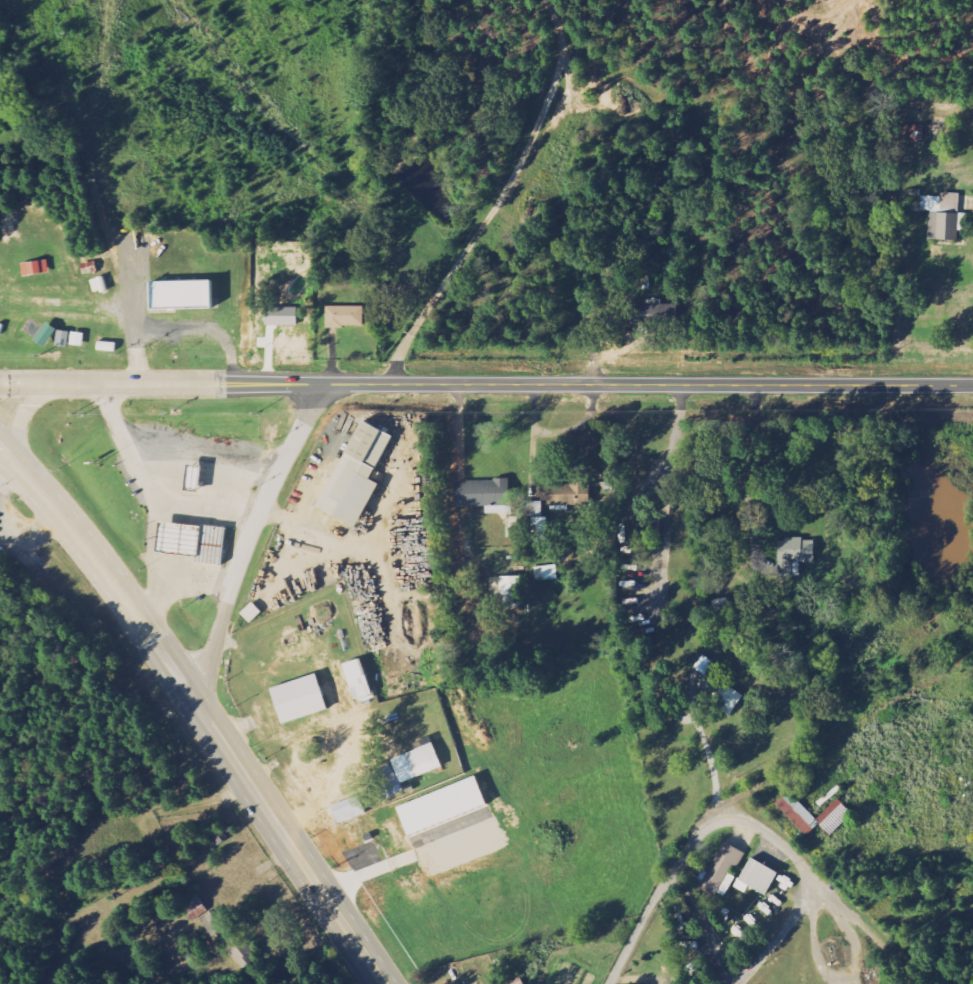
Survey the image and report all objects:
building: (914, 133)
road: (500, 201)
building: (942, 215)
building: (17, 218)
building: (34, 268)
building: (180, 294)
building: (653, 313)
building: (344, 316)
road: (177, 329)
building: (36, 331)
building: (62, 339)
building: (77, 339)
road: (31, 385)
road: (148, 385)
road: (603, 385)
road: (21, 423)
road: (577, 424)
road: (532, 437)
road: (14, 462)
building: (354, 475)
building: (484, 495)
building: (538, 522)
building: (649, 529)
road: (250, 535)
building: (191, 542)
building: (794, 555)
building: (546, 573)
building: (510, 589)
building: (250, 613)
building: (704, 666)
building: (355, 679)
building: (723, 697)
building: (297, 699)
road: (212, 727)
road: (848, 731)
building: (406, 769)
road: (331, 785)
building: (440, 806)
building: (793, 809)
building: (347, 810)
building: (222, 833)
road: (99, 835)
building: (722, 868)
building: (757, 877)
road: (824, 889)
road: (660, 894)
building: (195, 909)
building: (225, 933)

